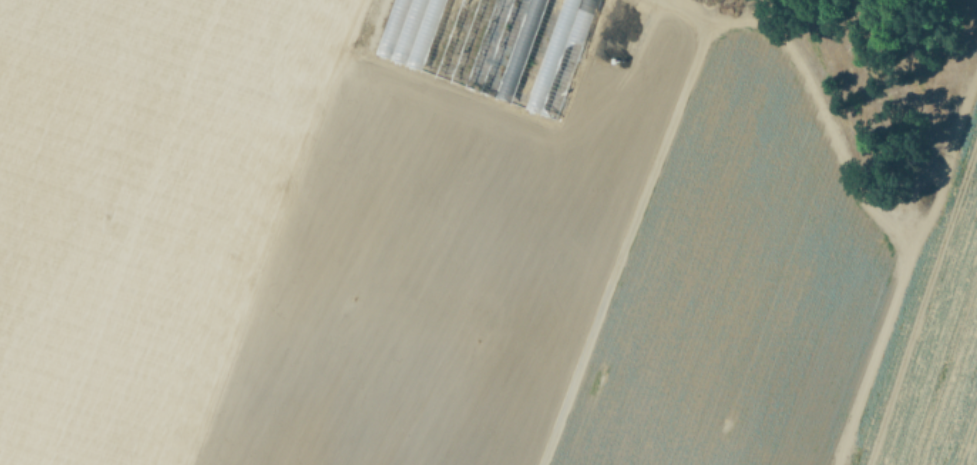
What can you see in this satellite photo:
building: (490, 46)
road: (631, 221)
crop: (488, 232)

